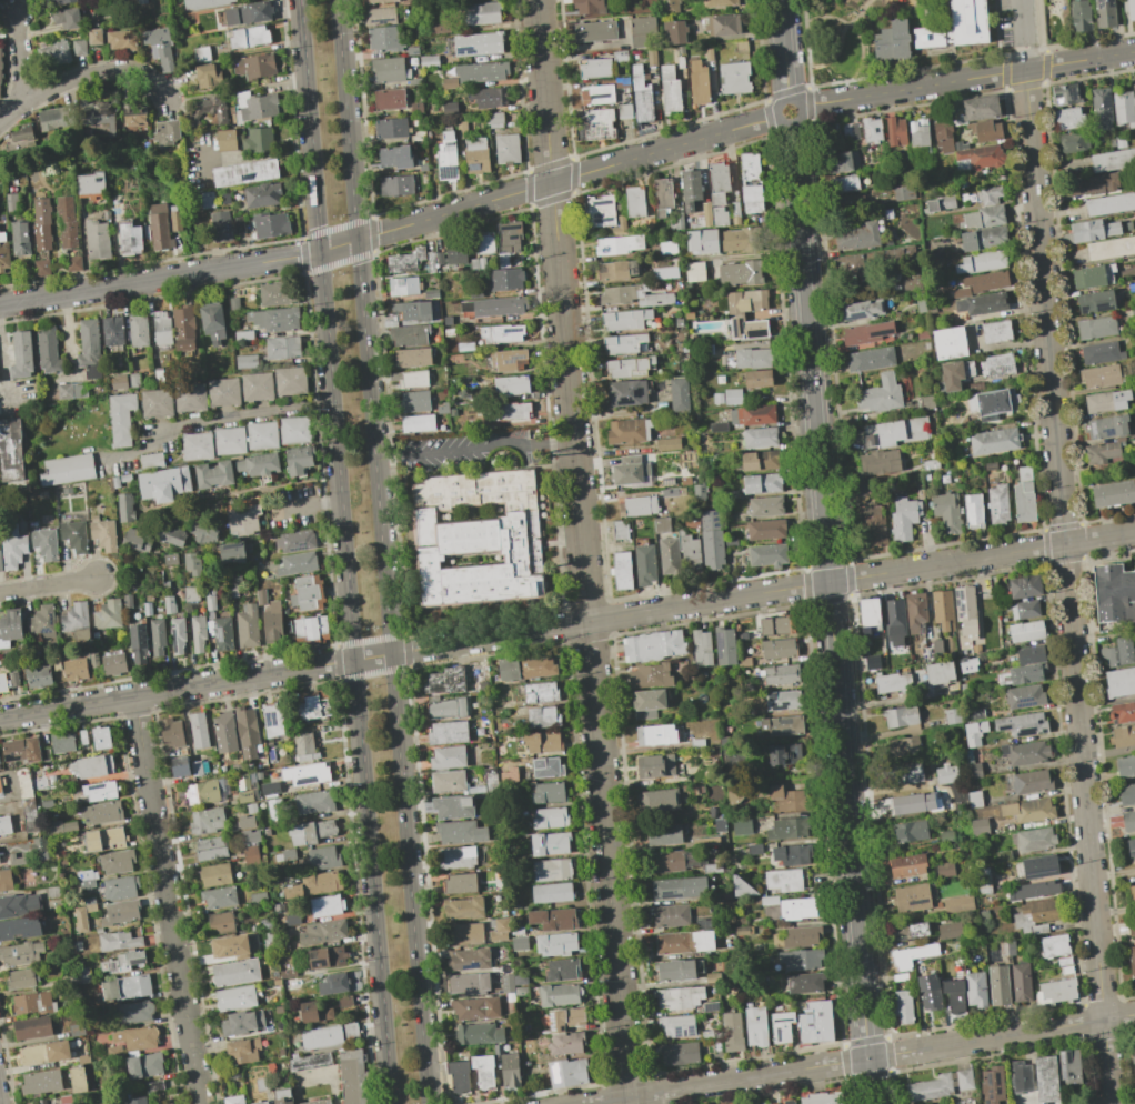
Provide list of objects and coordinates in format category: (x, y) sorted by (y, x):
building: (56, 1)
building: (379, 1)
building: (717, 2)
building: (202, 3)
building: (587, 7)
building: (669, 8)
building: (1128, 8)
building: (248, 12)
building: (481, 12)
building: (1103, 13)
building: (380, 14)
building: (1079, 16)
building: (66, 18)
building: (724, 24)
building: (439, 26)
building: (957, 27)
building: (640, 29)
building: (594, 31)
building: (673, 32)
road: (1021, 34)
building: (93, 36)
building: (249, 37)
building: (384, 38)
building: (121, 40)
building: (891, 40)
park: (840, 42)
building: (476, 43)
building: (159, 46)
building: (740, 46)
building: (78, 47)
rooftop solar panel: (464, 48)
building: (411, 49)
building: (680, 49)
road: (785, 49)
building: (0, 53)
building: (52, 53)
building: (201, 53)
building: (707, 53)
building: (619, 56)
building: (650, 57)
road: (20, 59)
road: (1079, 60)
building: (428, 61)
building: (679, 61)
building: (0, 64)
building: (255, 66)
building: (595, 68)
building: (388, 69)
building: (480, 71)
building: (0, 74)
building: (207, 74)
road: (81, 77)
building: (734, 77)
building: (413, 81)
building: (449, 82)
building: (621, 82)
building: (697, 82)
building: (0, 88)
road: (913, 88)
building: (670, 89)
road: (238, 91)
road: (543, 91)
building: (1065, 93)
rooftop solar panel: (1071, 93)
building: (596, 94)
building: (640, 94)
rooftop solar panel: (1059, 96)
building: (486, 97)
building: (389, 98)
rooftop solar panel: (1105, 103)
building: (252, 107)
building: (415, 107)
building: (449, 107)
building: (1123, 107)
building: (977, 108)
building: (1099, 108)
building: (210, 109)
building: (623, 111)
road: (803, 111)
building: (96, 112)
building: (133, 116)
building: (54, 117)
building: (1067, 118)
building: (493, 119)
building: (599, 123)
building: (391, 128)
building: (461, 129)
building: (871, 129)
building: (984, 130)
building: (164, 131)
building: (848, 131)
building: (894, 131)
building: (917, 131)
building: (21, 133)
building: (943, 134)
building: (830, 138)
building: (225, 140)
building: (257, 140)
building: (1073, 142)
building: (958, 144)
building: (506, 149)
road: (664, 149)
building: (475, 155)
building: (980, 155)
building: (394, 157)
building: (445, 158)
building: (1112, 160)
building: (841, 161)
building: (422, 167)
rooftop solar panel: (474, 170)
building: (244, 172)
rooftop solar panel: (446, 172)
building: (716, 182)
building: (750, 182)
building: (846, 183)
building: (1099, 183)
building: (395, 184)
building: (90, 185)
building: (690, 188)
building: (902, 192)
building: (261, 194)
building: (662, 195)
building: (988, 195)
building: (11, 201)
rooftop solar panel: (601, 201)
building: (633, 201)
building: (938, 203)
building: (1109, 203)
building: (599, 210)
building: (734, 212)
building: (704, 215)
building: (719, 215)
rooftop solar panel: (599, 217)
building: (983, 217)
building: (675, 220)
building: (174, 221)
building: (66, 222)
building: (41, 223)
building: (239, 224)
building: (269, 224)
rooftop solar panel: (511, 224)
building: (649, 224)
building: (220, 225)
building: (159, 227)
building: (617, 227)
building: (1092, 230)
building: (857, 235)
building: (19, 238)
rooftop solar panel: (513, 238)
building: (129, 239)
building: (740, 239)
building: (983, 239)
building: (96, 240)
traffic signals: (356, 240)
building: (701, 240)
building: (483, 243)
building: (508, 243)
building: (616, 244)
building: (1109, 247)
building: (666, 248)
traffic signals: (321, 250)
building: (454, 250)
building: (2, 252)
building: (439, 258)
road: (279, 259)
building: (403, 260)
building: (874, 261)
building: (981, 261)
building: (73, 262)
building: (430, 262)
building: (481, 262)
building: (473, 263)
building: (41, 268)
building: (613, 270)
building: (694, 271)
building: (662, 273)
building: (739, 273)
building: (1093, 274)
building: (912, 278)
building: (504, 279)
building: (985, 281)
rooftop solar panel: (400, 282)
building: (403, 285)
building: (278, 292)
building: (430, 293)
building: (474, 293)
building: (621, 293)
building: (955, 293)
building: (654, 299)
building: (744, 301)
building: (918, 302)
building: (1095, 302)
building: (233, 303)
building: (982, 303)
building: (493, 305)
road: (1044, 305)
rooftop solar panel: (1103, 307)
rooftop solar panel: (1084, 309)
building: (861, 310)
building: (411, 311)
building: (687, 314)
rooftop solar panel: (856, 314)
building: (275, 319)
building: (621, 320)
building: (212, 322)
building: (677, 322)
building: (182, 327)
building: (1096, 327)
building: (160, 328)
building: (746, 328)
building: (137, 330)
rooftop solar panel: (512, 330)
building: (112, 331)
building: (995, 331)
building: (448, 332)
building: (501, 332)
building: (865, 332)
building: (242, 334)
building: (408, 334)
building: (922, 334)
building: (623, 342)
building: (948, 342)
building: (464, 345)
building: (282, 348)
building: (88, 349)
building: (47, 350)
building: (1099, 352)
building: (20, 354)
building: (411, 357)
building: (749, 357)
rooftop solar panel: (515, 359)
building: (870, 359)
building: (508, 360)
building: (245, 361)
building: (996, 365)
building: (627, 367)
building: (158, 374)
building: (951, 374)
building: (1099, 375)
building: (756, 378)
building: (412, 379)
building: (132, 380)
building: (290, 380)
building: (118, 382)
building: (510, 384)
building: (974, 385)
building: (255, 387)
building: (70, 391)
building: (222, 392)
building: (626, 392)
building: (677, 394)
building: (880, 394)
building: (732, 395)
building: (189, 398)
building: (716, 398)
building: (413, 401)
building: (1105, 401)
building: (155, 402)
building: (992, 402)
building: (442, 408)
building: (510, 411)
building: (752, 414)
building: (119, 418)
road: (217, 419)
building: (416, 422)
building: (716, 426)
building: (1107, 426)
building: (294, 430)
building: (626, 431)
building: (894, 431)
building: (261, 435)
building: (759, 436)
building: (228, 441)
building: (993, 441)
building: (666, 443)
building: (195, 445)
road: (473, 448)
building: (1102, 451)
building: (10, 452)
building: (298, 460)
building: (759, 460)
building: (150, 461)
building: (880, 462)
building: (930, 463)
building: (258, 464)
building: (990, 465)
building: (66, 470)
building: (629, 470)
building: (213, 474)
building: (124, 478)
building: (684, 480)
building: (114, 482)
building: (761, 482)
building: (163, 483)
building: (672, 491)
building: (699, 491)
road: (239, 492)
building: (1113, 493)
building: (1023, 495)
building: (997, 503)
road: (307, 504)
building: (636, 505)
building: (764, 505)
building: (124, 506)
building: (972, 510)
building: (945, 511)
rooftop solar panel: (716, 514)
building: (242, 516)
building: (903, 518)
rooftop solar panel: (716, 520)
building: (661, 524)
rooftop solar panel: (717, 525)
building: (871, 525)
building: (619, 529)
building: (764, 529)
building: (202, 532)
building: (102, 533)
building: (168, 534)
building: (73, 535)
road: (1099, 536)
building: (478, 538)
building: (712, 539)
building: (135, 541)
building: (294, 541)
building: (43, 543)
building: (687, 545)
building: (11, 548)
rooftop solar panel: (300, 548)
building: (231, 552)
road: (345, 552)
road: (381, 552)
building: (766, 554)
building: (667, 555)
building: (169, 558)
building: (191, 563)
building: (297, 563)
building: (644, 564)
building: (258, 565)
building: (0, 568)
building: (621, 570)
building: (234, 581)
road: (825, 582)
road: (48, 584)
road: (828, 585)
building: (1024, 586)
building: (190, 593)
building: (305, 593)
building: (1113, 593)
building: (208, 600)
building: (125, 601)
building: (168, 604)
building: (147, 609)
building: (1023, 609)
building: (942, 610)
building: (964, 610)
building: (915, 613)
building: (107, 614)
building: (868, 615)
rooftop solar panel: (50, 620)
building: (40, 621)
building: (893, 621)
building: (76, 622)
building: (272, 622)
rooftop solar panel: (172, 624)
building: (10, 625)
building: (309, 625)
building: (775, 625)
building: (247, 626)
rooftop solar panel: (47, 630)
building: (1025, 631)
building: (197, 633)
building: (221, 633)
building: (177, 634)
building: (155, 635)
rooftop solar panel: (219, 635)
road: (589, 640)
building: (138, 643)
building: (652, 644)
rooftop solar panel: (174, 645)
building: (723, 645)
building: (936, 646)
building: (701, 648)
building: (777, 648)
building: (1116, 652)
building: (925, 654)
building: (1029, 654)
road: (361, 659)
building: (112, 662)
building: (871, 662)
building: (966, 665)
building: (535, 666)
building: (74, 669)
building: (508, 669)
building: (781, 673)
building: (940, 673)
building: (1021, 674)
building: (37, 675)
building: (649, 675)
building: (11, 679)
building: (444, 681)
building: (2, 682)
building: (1119, 682)
building: (893, 683)
building: (540, 692)
building: (1023, 696)
building: (647, 699)
building: (782, 700)
rooftop solar panel: (1025, 703)
building: (310, 704)
road: (67, 706)
building: (445, 707)
building: (1122, 712)
building: (976, 713)
building: (952, 715)
building: (542, 716)
building: (898, 716)
rooftop solar panel: (268, 719)
rooftop solar panel: (273, 719)
building: (271, 720)
rooftop solar panel: (785, 721)
building: (1022, 724)
building: (781, 725)
building: (198, 730)
rooftop solar panel: (775, 731)
rooftop solar panel: (787, 731)
building: (170, 732)
building: (223, 732)
building: (245, 732)
building: (448, 732)
building: (654, 735)
building: (1122, 735)
building: (82, 737)
building: (99, 737)
building: (723, 740)
building: (62, 742)
building: (542, 742)
building: (301, 743)
building: (903, 746)
building: (22, 750)
building: (1024, 752)
building: (733, 754)
building: (783, 754)
building: (448, 757)
building: (91, 765)
building: (179, 765)
building: (655, 765)
building: (1125, 765)
building: (545, 766)
building: (197, 767)
building: (973, 771)
building: (910, 773)
building: (258, 774)
building: (305, 774)
building: (945, 774)
building: (51, 779)
building: (243, 779)
building: (491, 780)
building: (448, 781)
building: (1027, 781)
rooftop solar panel: (96, 786)
building: (269, 787)
building: (99, 790)
building: (202, 791)
building: (548, 792)
building: (0, 793)
building: (1126, 793)
building: (244, 796)
building: (785, 797)
building: (973, 799)
building: (656, 800)
building: (313, 801)
building: (46, 803)
building: (911, 803)
building: (452, 806)
building: (250, 807)
building: (274, 809)
building: (1028, 810)
building: (100, 812)
building: (29, 815)
building: (550, 817)
building: (205, 820)
building: (1128, 820)
building: (245, 822)
road: (1087, 823)
building: (720, 824)
building: (4, 825)
building: (68, 825)
building: (741, 825)
building: (52, 826)
building: (978, 826)
building: (786, 827)
building: (310, 832)
building: (460, 832)
building: (908, 832)
building: (662, 833)
building: (946, 835)
building: (249, 836)
building: (104, 839)
building: (1033, 840)
building: (549, 843)
building: (37, 844)
building: (1131, 846)
building: (210, 847)
building: (754, 850)
building: (41, 854)
building: (250, 854)
building: (287, 854)
building: (791, 854)
building: (322, 857)
building: (456, 857)
building: (14, 860)
building: (672, 860)
building: (115, 861)
building: (905, 865)
building: (1037, 866)
building: (551, 869)
building: (943, 869)
building: (83, 874)
building: (214, 874)
building: (7, 879)
building: (783, 880)
building: (982, 881)
building: (320, 882)
building: (459, 883)
building: (84, 884)
building: (120, 886)
building: (677, 886)
building: (741, 886)
building: (1033, 890)
building: (53, 891)
building: (291, 891)
building: (551, 892)
building: (1132, 893)
building: (218, 896)
building: (257, 896)
building: (912, 897)
road: (165, 900)
building: (767, 900)
rooftop solar panel: (916, 902)
building: (18, 904)
building: (89, 904)
building: (325, 905)
building: (957, 905)
building: (278, 907)
building: (462, 907)
building: (796, 907)
building: (117, 913)
building: (670, 914)
building: (983, 914)
building: (1036, 915)
building: (79, 919)
building: (291, 919)
building: (553, 919)
building: (219, 922)
building: (265, 923)
building: (19, 927)
building: (1131, 927)
building: (498, 929)
building: (515, 929)
building: (742, 930)
building: (950, 930)
building: (323, 931)
building: (908, 931)
building: (463, 934)
building: (801, 935)
building: (117, 940)
building: (268, 942)
building: (683, 942)
building: (519, 943)
building: (555, 943)
building: (76, 945)
building: (1054, 945)
building: (228, 946)
building: (1005, 947)
building: (20, 953)
building: (911, 955)
building: (327, 956)
building: (468, 959)
building: (800, 959)
building: (122, 961)
rooftop solar panel: (135, 961)
building: (1063, 961)
rooftop solar panel: (319, 962)
building: (1132, 962)
rooftop solar panel: (112, 966)
rooftop solar panel: (471, 967)
building: (677, 968)
building: (561, 970)
building: (1065, 970)
building: (234, 972)
building: (290, 973)
building: (82, 974)
building: (900, 977)
building: (20, 978)
building: (520, 981)
building: (804, 982)
building: (1022, 982)
building: (275, 983)
building: (332, 983)
building: (506, 983)
building: (468, 984)
building: (997, 985)
building: (125, 986)
building: (975, 988)
building: (520, 991)
building: (1055, 991)
building: (928, 992)
building: (559, 994)
building: (953, 994)
building: (509, 996)
building: (679, 996)
building: (234, 997)
building: (343, 1001)
building: (31, 1003)
building: (902, 1006)
building: (476, 1007)
building: (710, 1007)
building: (278, 1008)
building: (134, 1011)
building: (314, 1012)
building: (564, 1018)
building: (242, 1022)
building: (814, 1023)
building: (675, 1025)
building: (754, 1025)
building: (780, 1026)
building: (32, 1027)
building: (76, 1028)
building: (731, 1031)
building: (476, 1033)
building: (709, 1034)
rooftop solar panel: (776, 1035)
road: (1006, 1035)
building: (321, 1036)
building: (135, 1037)
building: (565, 1042)
building: (716, 1046)
building: (113, 1050)
building: (243, 1050)
building: (42, 1052)
building: (280, 1052)
road: (877, 1052)
building: (676, 1053)
building: (1132, 1054)
building: (82, 1058)
rooftop solar panel: (1063, 1058)
rooftop solar panel: (1069, 1058)
building: (308, 1061)
building: (143, 1064)
building: (1068, 1066)
building: (270, 1067)
building: (482, 1070)
building: (509, 1070)
building: (565, 1072)
rooftop solar panel: (1064, 1072)
building: (231, 1074)
rooftop solar panel: (556, 1074)
building: (456, 1075)
building: (351, 1076)
building: (1021, 1076)
road: (742, 1078)
building: (1045, 1078)
building: (77, 1080)
rooftop solar panel: (988, 1081)
rooftop solar panel: (996, 1081)
building: (40, 1082)
building: (260, 1084)
building: (153, 1085)
building: (940, 1085)
building: (991, 1085)
road: (871, 1086)
rooftop solar panel: (988, 1092)
rooftop solar panel: (997, 1092)
building: (282, 1096)
building: (820, 1098)
rooftop solar panel: (990, 1098)
building: (233, 1100)
building: (137, 1101)
building: (318, 1101)
road: (609, 1101)
road: (629, 1101)
building: (259, 1102)
building: (784, 1102)

